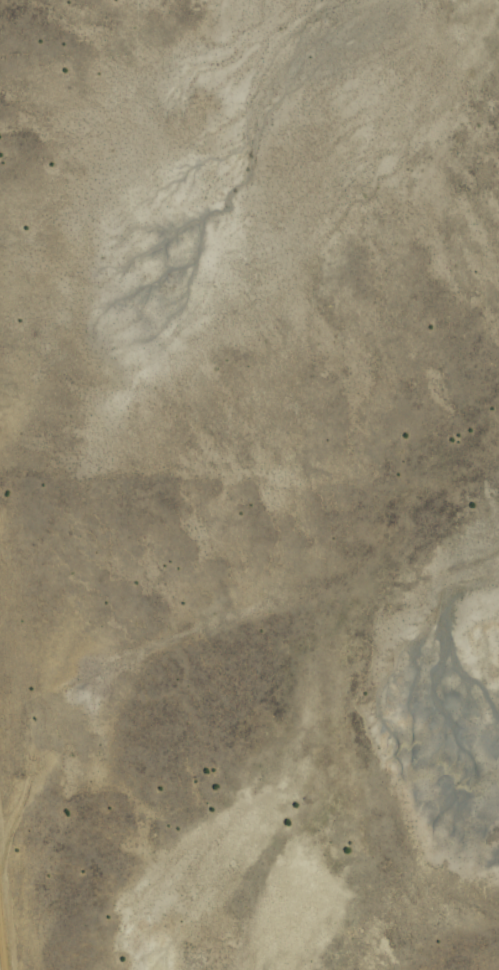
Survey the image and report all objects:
road: (197, 744)
road: (26, 890)

